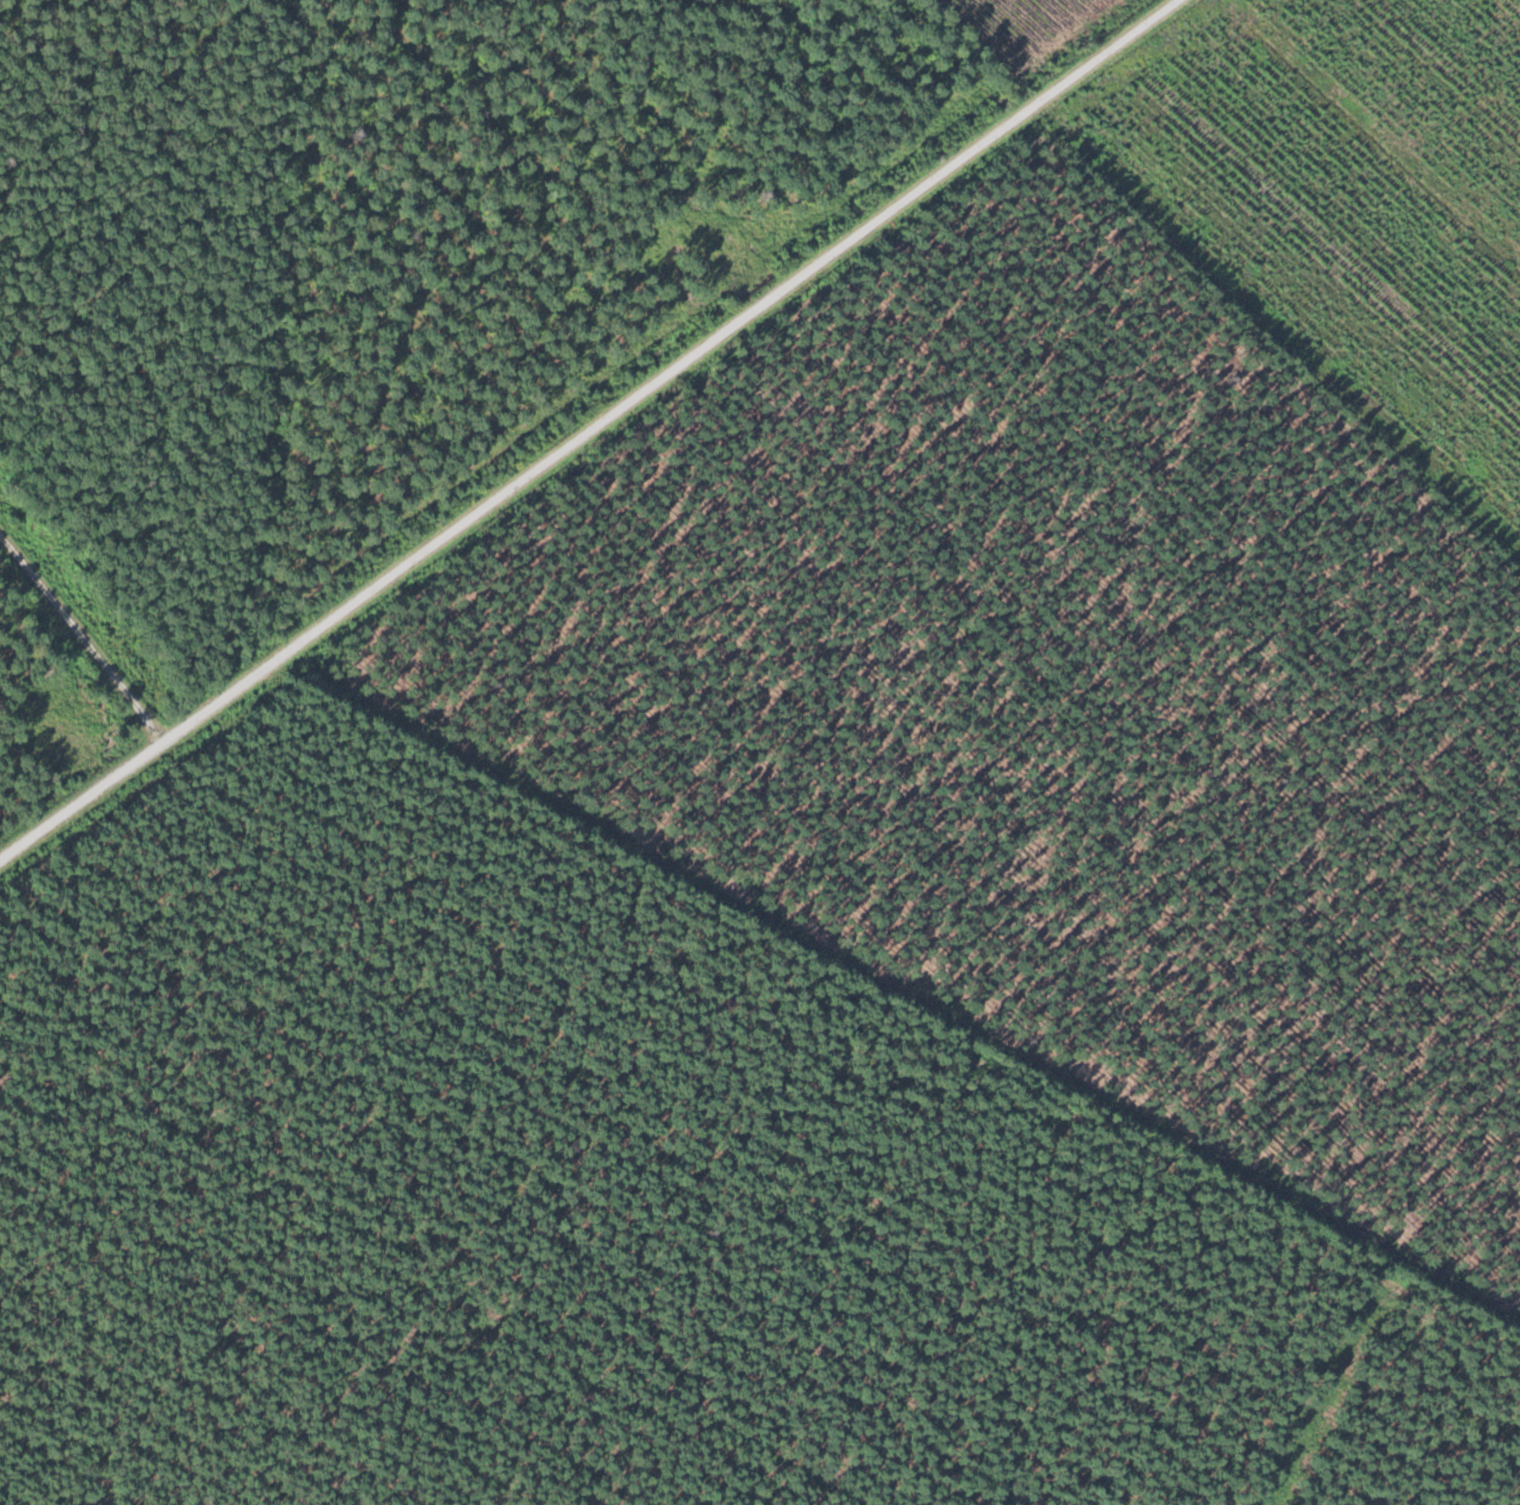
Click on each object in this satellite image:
road: (591, 431)

